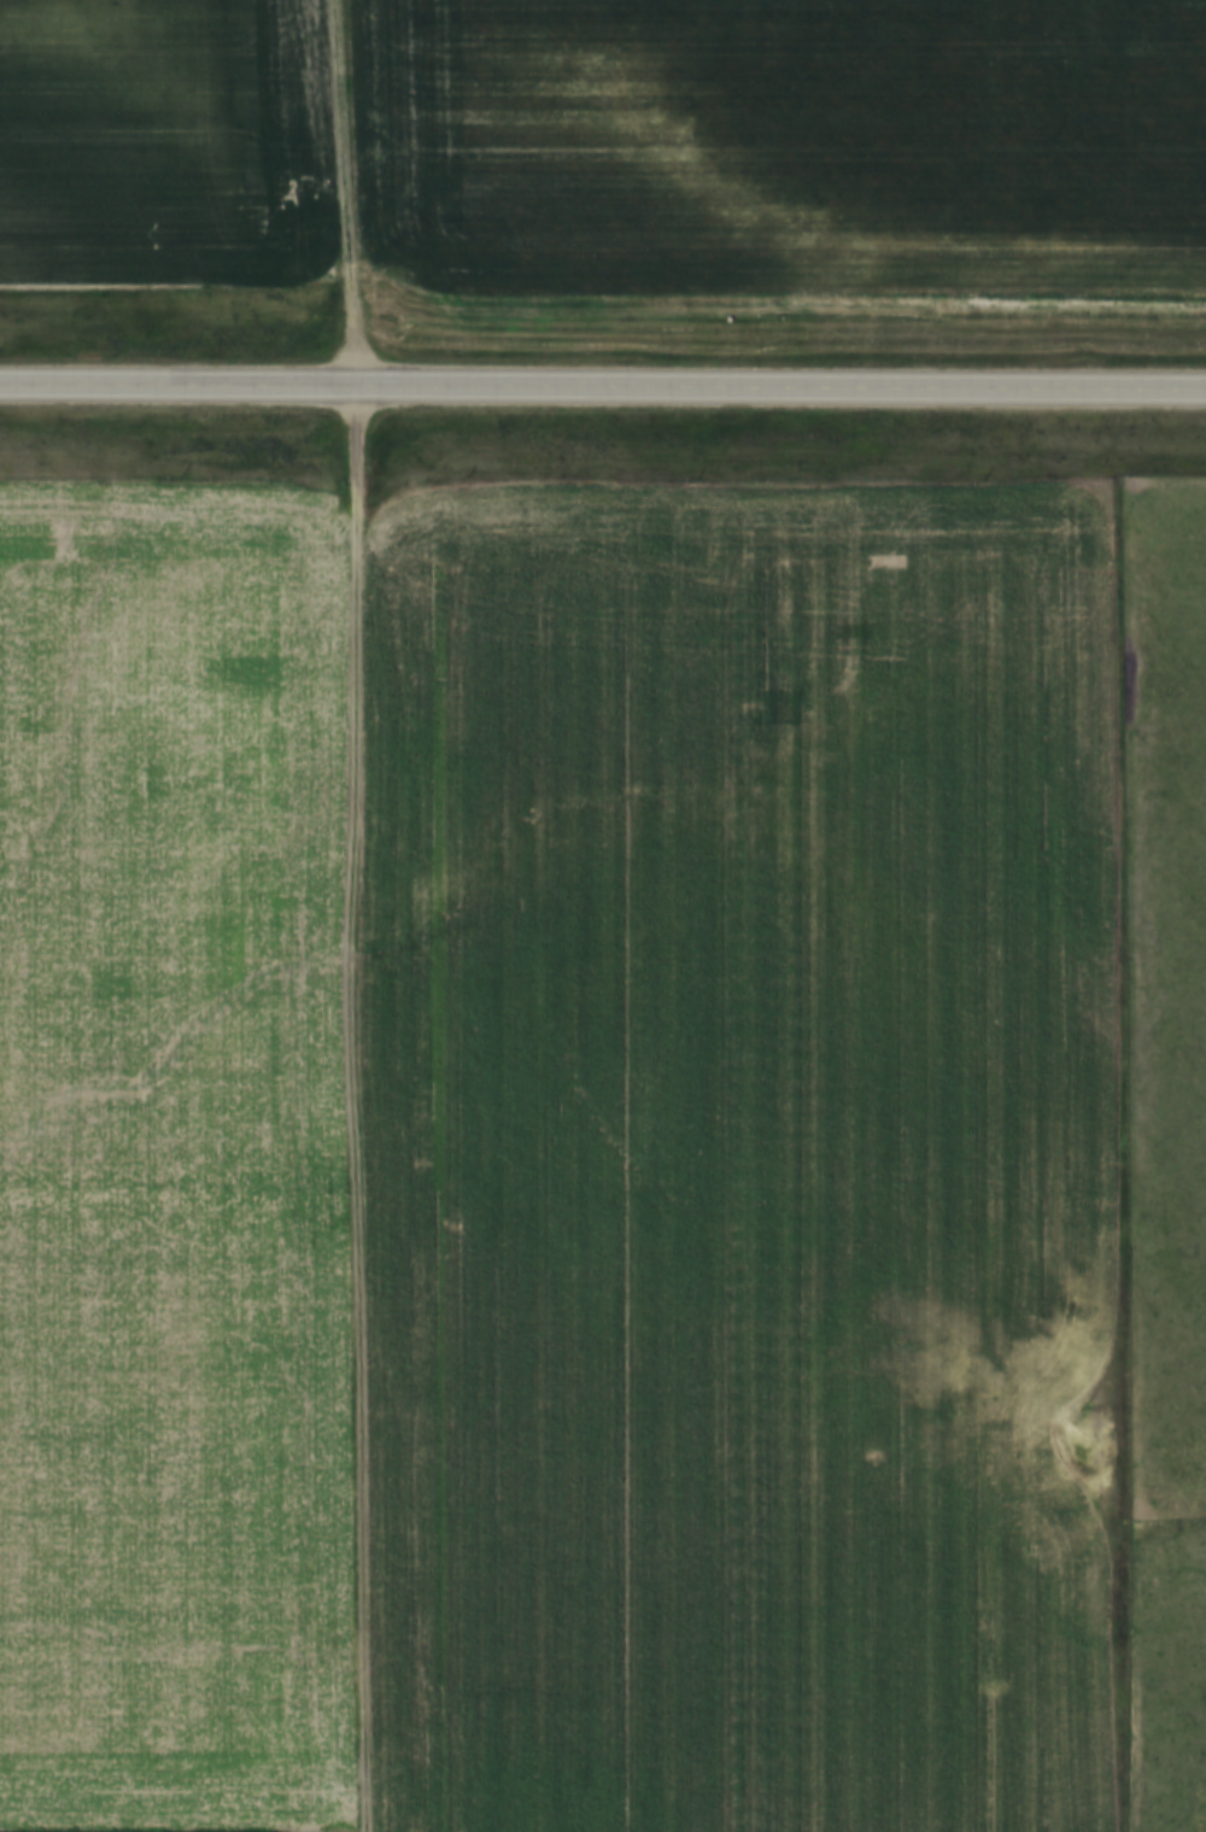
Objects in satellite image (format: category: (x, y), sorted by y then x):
road: (603, 404)
road: (355, 1117)

